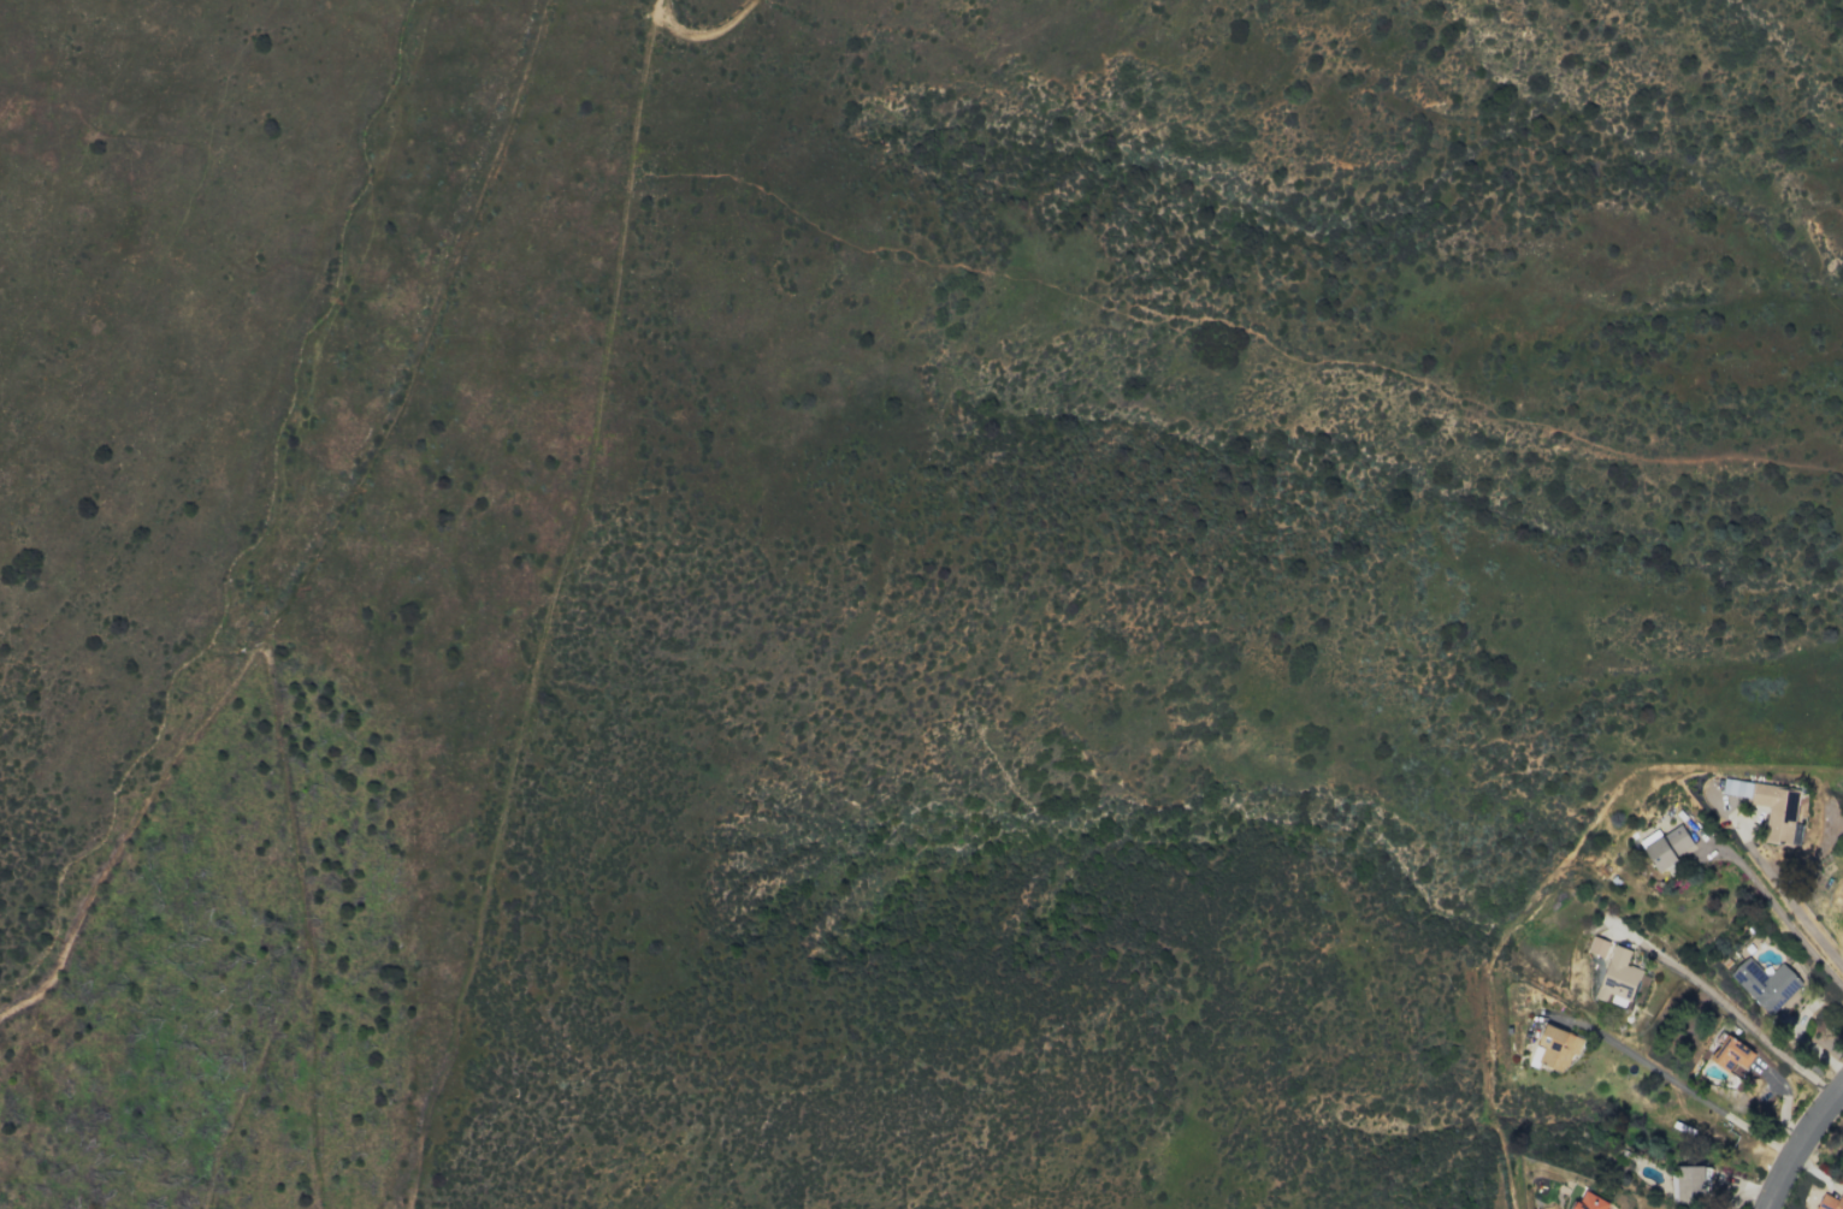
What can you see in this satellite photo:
road: (711, 32)
road: (323, 537)
building: (1770, 806)
building: (1668, 846)
road: (1789, 899)
road: (1782, 912)
building: (1597, 946)
building: (1619, 978)
building: (1765, 983)
road: (1737, 1017)
building: (1556, 1047)
building: (1731, 1054)
road: (1678, 1083)
road: (1797, 1142)
building: (1690, 1184)
road: (1744, 1193)
building: (1590, 1202)
building: (1830, 1202)

